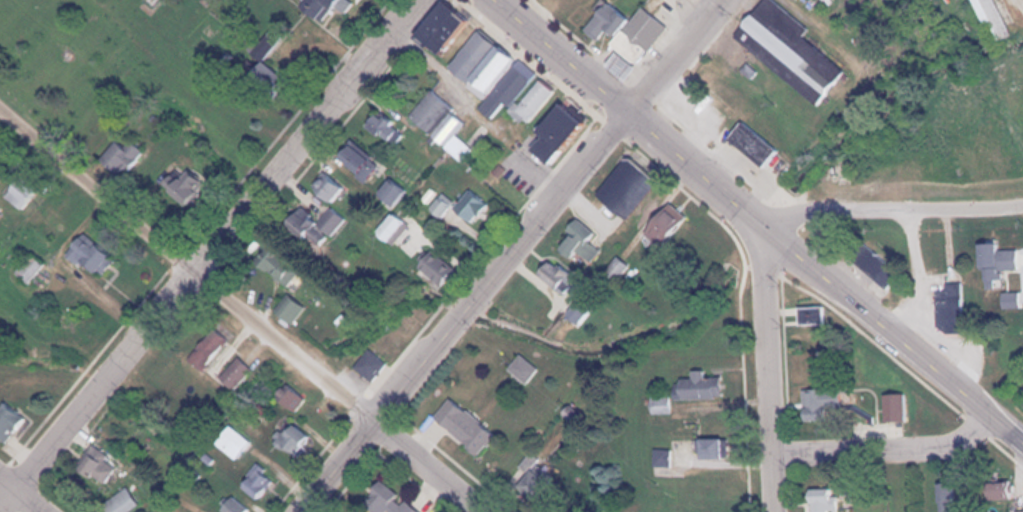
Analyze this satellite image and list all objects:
building: (325, 9)
building: (992, 20)
building: (605, 21)
building: (438, 27)
building: (641, 34)
building: (785, 49)
road: (676, 54)
building: (480, 63)
building: (620, 65)
building: (1017, 72)
building: (520, 94)
road: (636, 113)
building: (442, 124)
building: (554, 131)
building: (755, 143)
building: (122, 157)
building: (358, 161)
building: (181, 186)
building: (327, 187)
building: (626, 189)
building: (462, 206)
road: (893, 212)
building: (664, 224)
building: (316, 227)
building: (393, 229)
building: (580, 243)
road: (211, 252)
building: (90, 257)
building: (998, 264)
building: (874, 265)
building: (278, 267)
building: (30, 268)
building: (436, 269)
building: (618, 270)
building: (558, 276)
building: (943, 292)
building: (1013, 301)
building: (290, 310)
road: (468, 311)
road: (240, 313)
building: (813, 316)
road: (896, 336)
building: (208, 349)
building: (371, 366)
building: (524, 369)
road: (769, 371)
building: (237, 373)
building: (701, 386)
building: (290, 398)
building: (820, 402)
building: (660, 404)
building: (896, 408)
building: (10, 424)
building: (464, 427)
building: (291, 439)
building: (232, 442)
building: (709, 448)
road: (886, 449)
building: (98, 464)
building: (535, 478)
building: (257, 481)
building: (1000, 489)
road: (21, 493)
building: (823, 500)
building: (388, 501)
building: (121, 502)
building: (234, 505)
building: (1020, 511)

